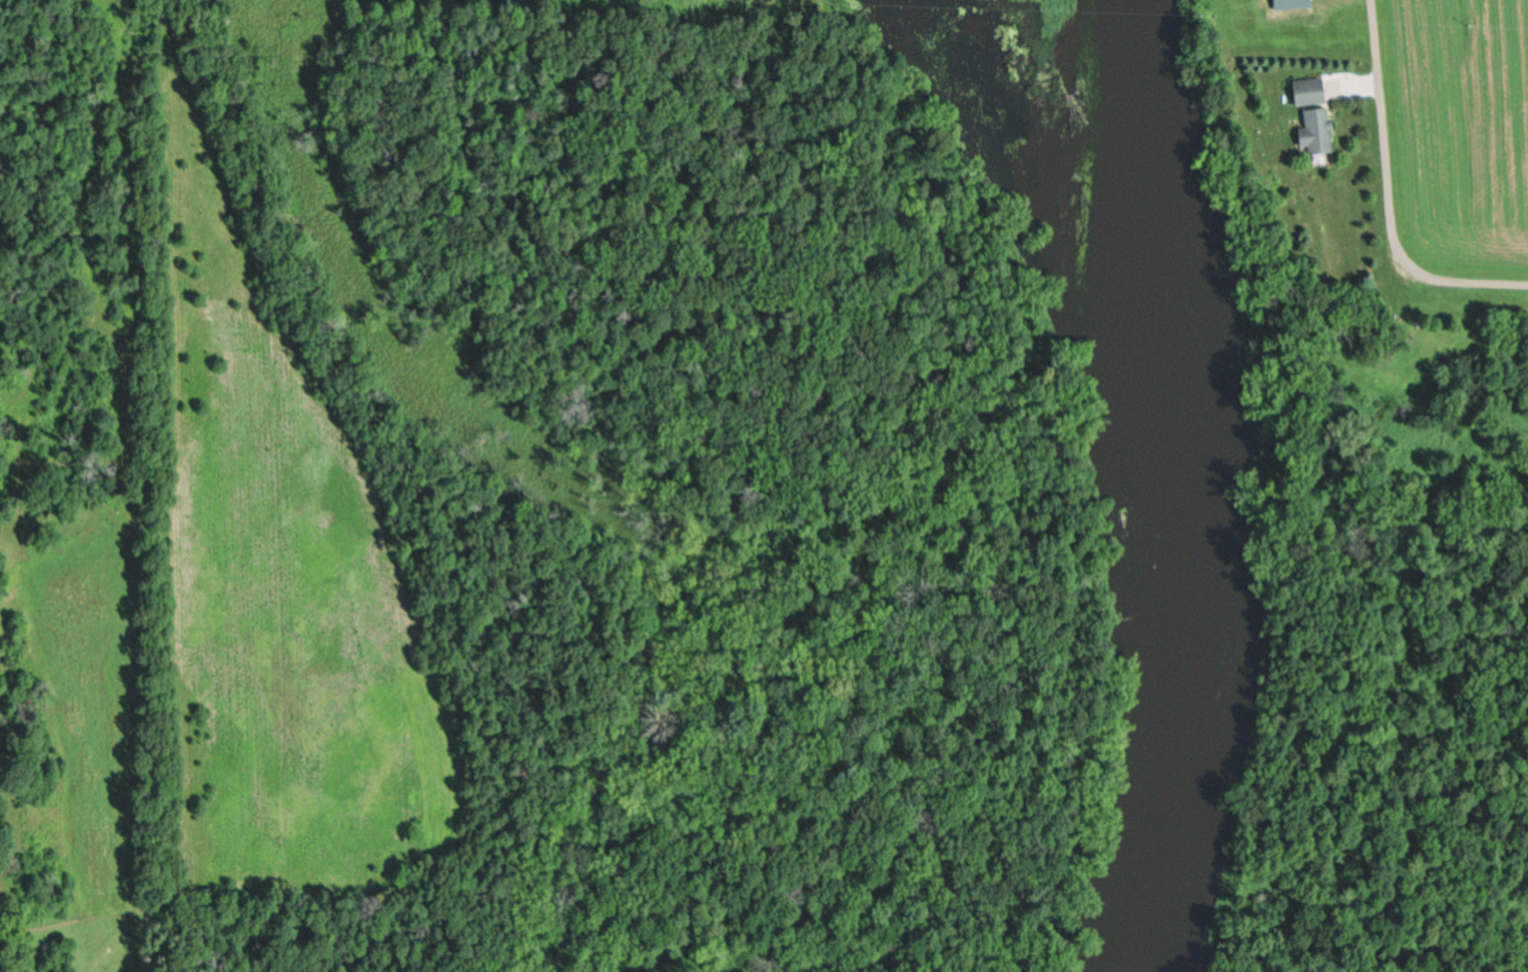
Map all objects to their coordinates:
building: (1312, 90)
building: (1321, 131)
crop: (1457, 135)
road: (1389, 194)
river: (1177, 485)
crop: (1, 946)

